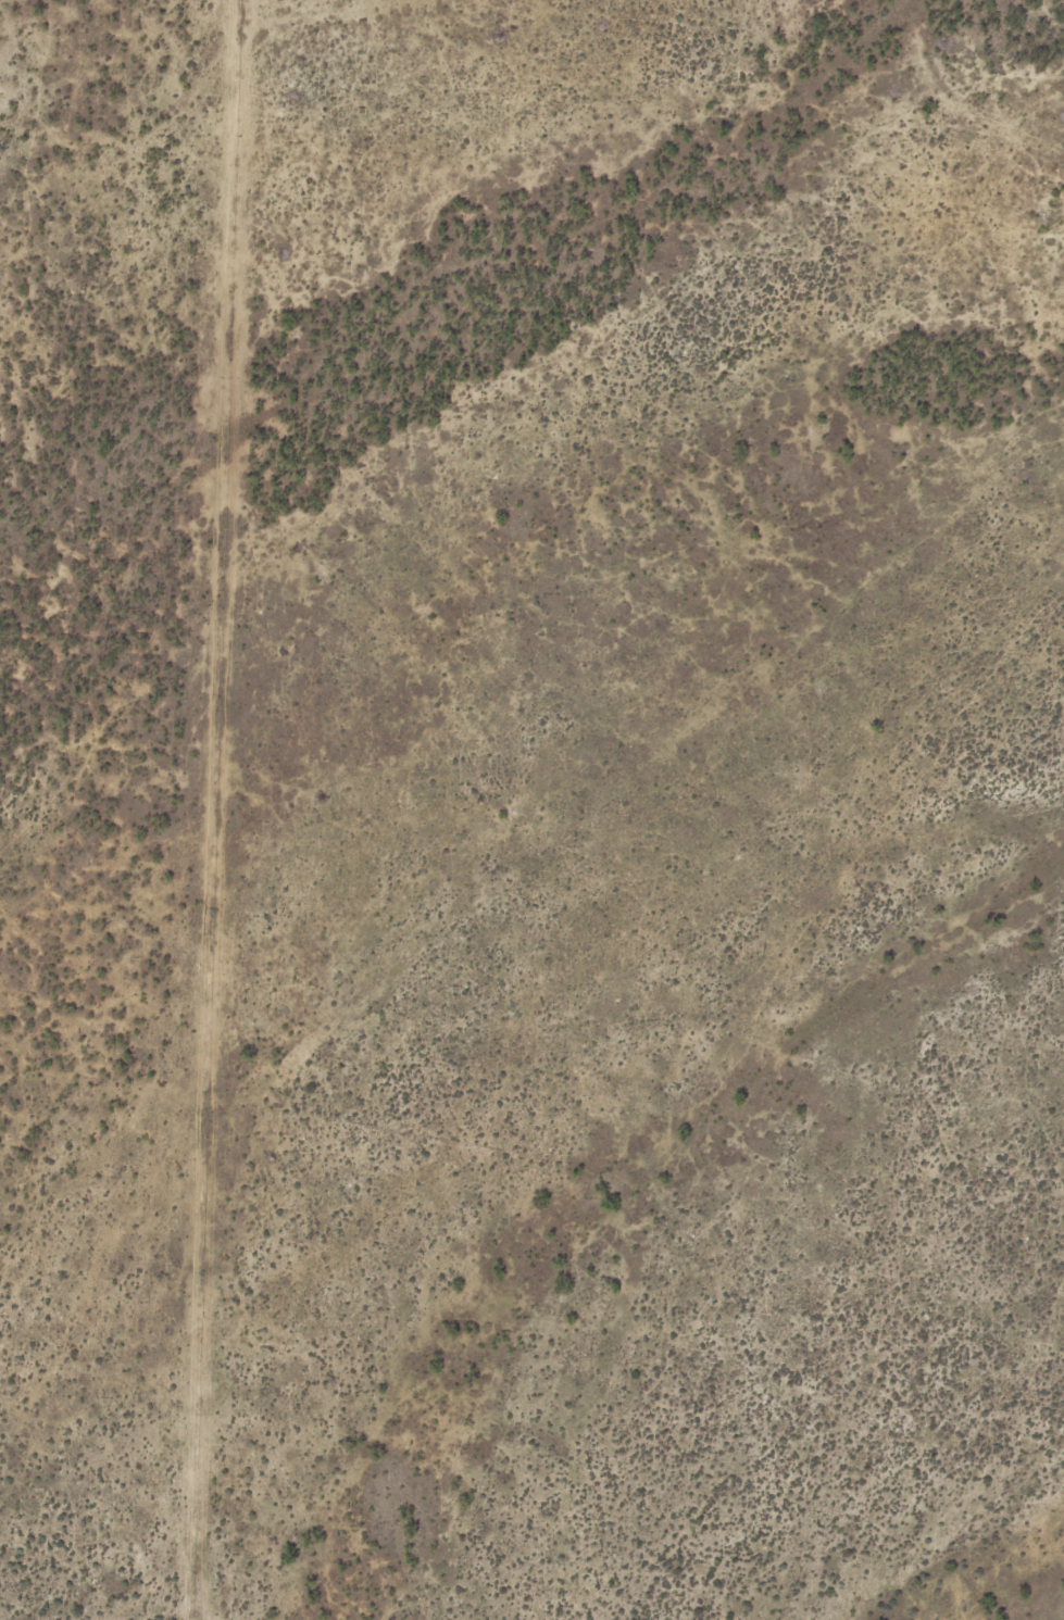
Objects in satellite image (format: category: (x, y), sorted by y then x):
road: (215, 809)
road: (0, 1619)

